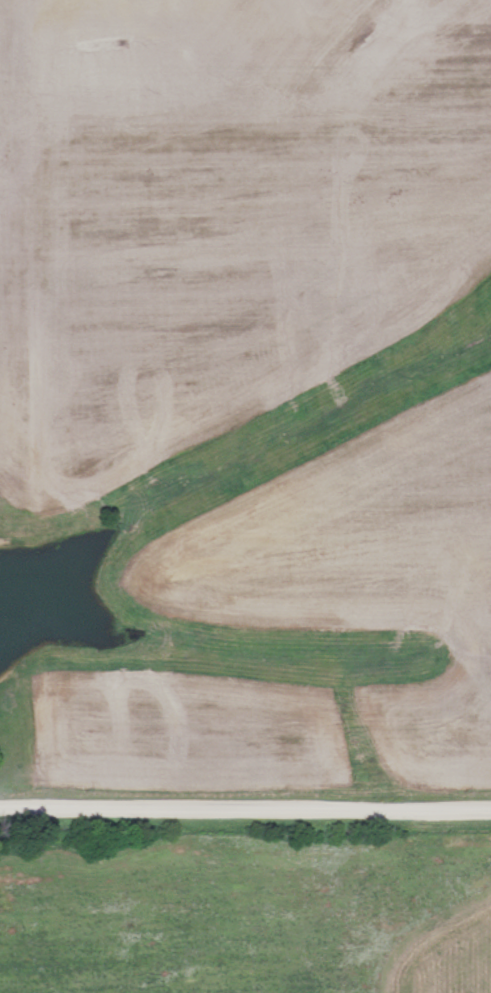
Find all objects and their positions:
road: (245, 810)

